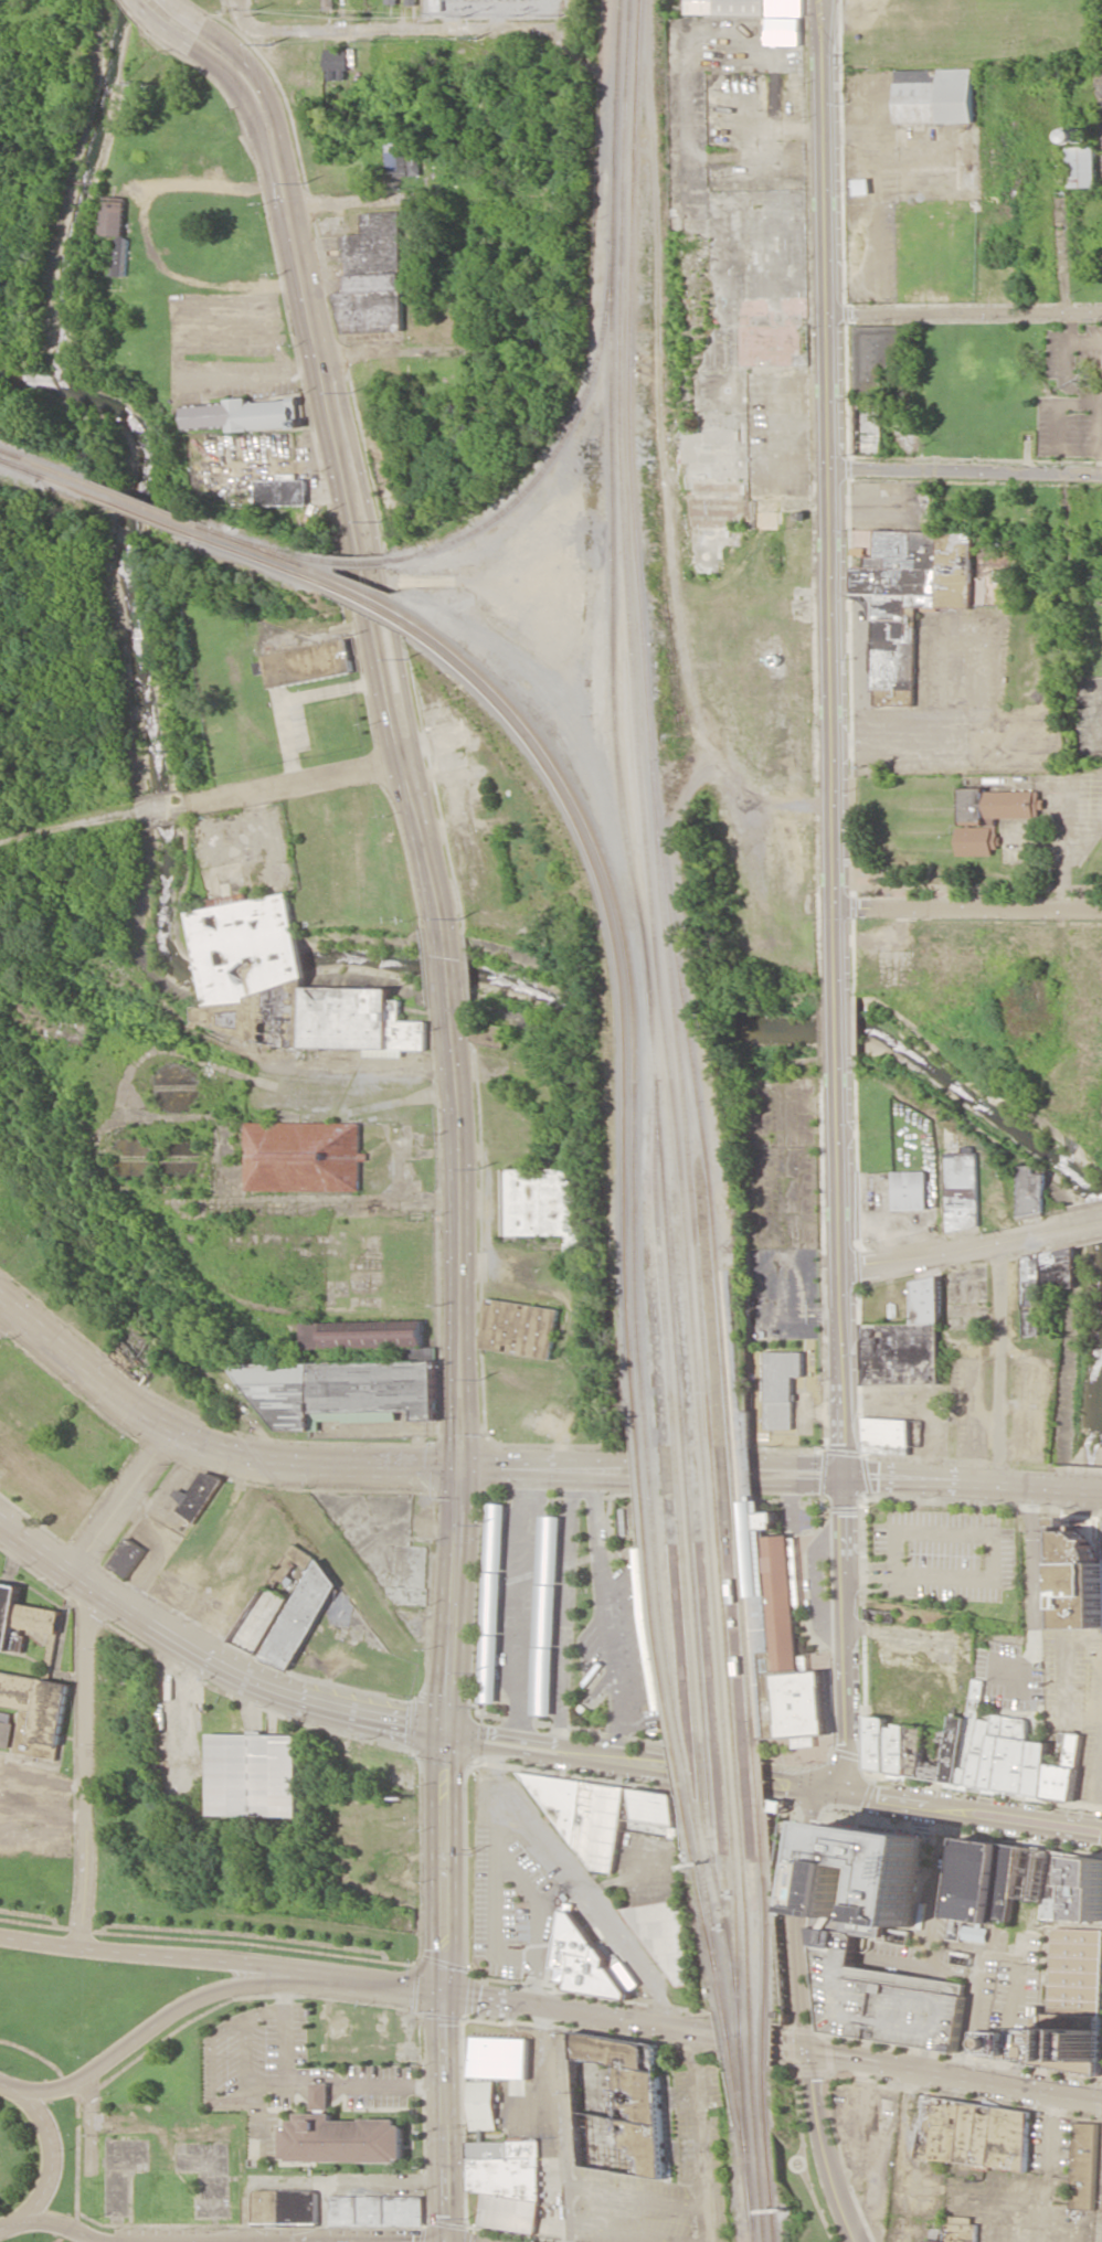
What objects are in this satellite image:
building: (392, 1)
building: (412, 2)
power substation: (491, 7)
building: (727, 7)
building: (784, 22)
road: (394, 30)
road: (215, 51)
building: (335, 64)
building: (934, 95)
building: (395, 159)
building: (1083, 167)
road: (559, 173)
building: (861, 185)
road: (422, 196)
road: (1063, 216)
road: (147, 223)
building: (116, 232)
building: (372, 277)
road: (965, 314)
road: (307, 321)
road: (437, 351)
building: (876, 355)
building: (246, 414)
railway: (562, 446)
railway: (44, 465)
railway: (21, 466)
road: (965, 470)
railway: (42, 476)
building: (280, 492)
road: (828, 497)
railway: (145, 503)
railway: (141, 513)
railway: (272, 548)
railway: (265, 550)
railway: (263, 559)
railway: (360, 562)
road: (1070, 585)
railway: (364, 592)
building: (901, 602)
railway: (367, 604)
building: (304, 663)
road: (398, 723)
road: (298, 779)
building: (993, 816)
road: (968, 909)
road: (1060, 937)
railway: (629, 938)
railway: (621, 950)
road: (443, 967)
building: (251, 968)
railway: (661, 1007)
railway: (671, 1008)
railway: (682, 1010)
building: (360, 1022)
road: (838, 1026)
building: (303, 1156)
building: (911, 1190)
building: (963, 1190)
building: (1031, 1191)
building: (543, 1203)
road: (1091, 1223)
road: (459, 1240)
road: (963, 1250)
road: (844, 1265)
building: (1041, 1283)
road: (3, 1311)
building: (520, 1328)
building: (907, 1341)
road: (999, 1364)
building: (781, 1386)
building: (341, 1391)
building: (887, 1435)
road: (209, 1445)
railway: (680, 1467)
traffic signals: (462, 1471)
road: (497, 1471)
road: (552, 1473)
road: (603, 1474)
road: (797, 1474)
road: (968, 1481)
railway: (692, 1494)
building: (198, 1495)
road: (120, 1500)
building: (631, 1519)
road: (678, 1542)
building: (128, 1556)
building: (1081, 1572)
road: (816, 1581)
road: (457, 1601)
building: (494, 1603)
road: (526, 1604)
building: (301, 1607)
road: (566, 1607)
building: (23, 1615)
building: (548, 1615)
building: (259, 1619)
road: (611, 1619)
building: (783, 1628)
road: (843, 1628)
road: (210, 1655)
railway: (665, 1682)
railway: (675, 1682)
building: (39, 1709)
railway: (765, 1722)
building: (6, 1729)
traffic signals: (448, 1731)
road: (496, 1731)
road: (462, 1734)
road: (540, 1739)
road: (499, 1747)
road: (615, 1749)
road: (544, 1753)
building: (974, 1754)
road: (616, 1765)
road: (86, 1766)
building: (253, 1774)
road: (797, 1775)
traffic signals: (828, 1779)
road: (822, 1787)
road: (792, 1792)
traffic signals: (816, 1795)
road: (965, 1800)
building: (605, 1815)
road: (958, 1816)
road: (724, 1853)
road: (762, 1859)
road: (445, 1861)
building: (860, 1874)
building: (1022, 1885)
road: (797, 1922)
building: (668, 1937)
road: (227, 1941)
road: (168, 1955)
building: (586, 1962)
road: (390, 1986)
traffic signals: (445, 1993)
building: (881, 1999)
parking garage: (881, 1999)
road: (495, 2000)
building: (1072, 2004)
road: (167, 2013)
railway: (743, 2023)
railway: (744, 2023)
railway: (729, 2025)
railway: (730, 2025)
road: (678, 2029)
railway: (755, 2038)
railway: (767, 2041)
railway: (744, 2047)
building: (509, 2048)
railway: (733, 2048)
traffic signals: (812, 2051)
railway: (735, 2064)
railway: (745, 2074)
road: (956, 2074)
railway: (757, 2085)
road: (9, 2086)
railway: (769, 2096)
railway: (741, 2102)
building: (622, 2104)
building: (485, 2105)
railway: (748, 2114)
road: (445, 2117)
road: (562, 2124)
railway: (760, 2132)
road: (698, 2133)
building: (974, 2133)
building: (340, 2135)
railway: (770, 2136)
road: (823, 2148)
railway: (772, 2158)
road: (52, 2166)
building: (1084, 2166)
railway: (751, 2176)
railway: (753, 2179)
building: (507, 2182)
railway: (764, 2198)
building: (285, 2207)
railway: (775, 2207)
building: (375, 2210)
road: (59, 2223)
road: (635, 2228)
building: (960, 2229)
railway: (756, 2231)

